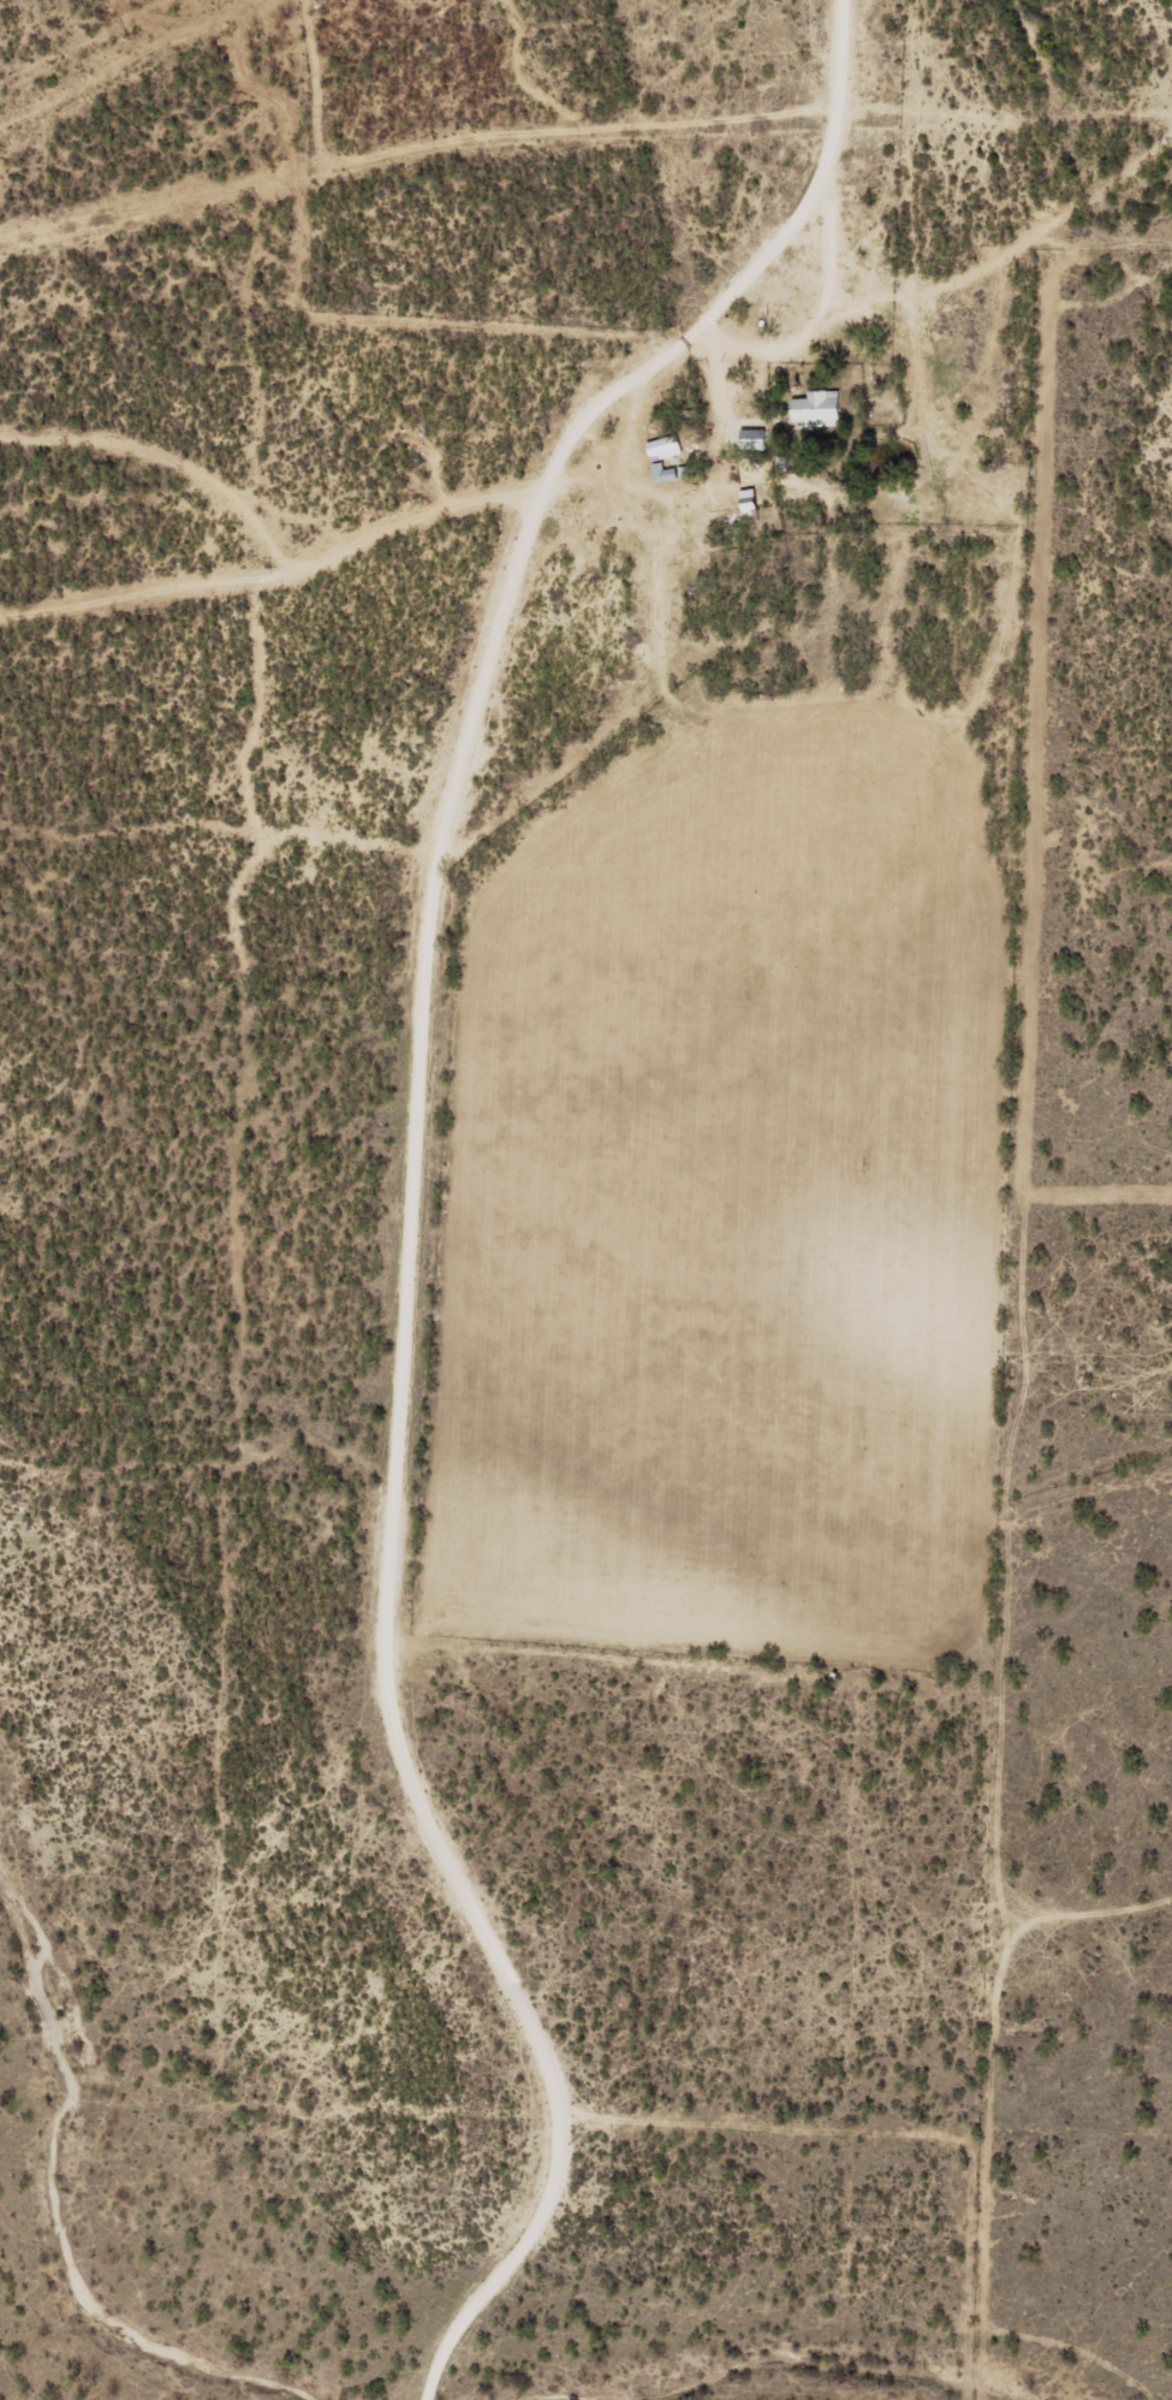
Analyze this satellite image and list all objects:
building: (816, 409)
building: (750, 439)
building: (661, 448)
building: (671, 472)
road: (258, 603)
road: (391, 1149)

